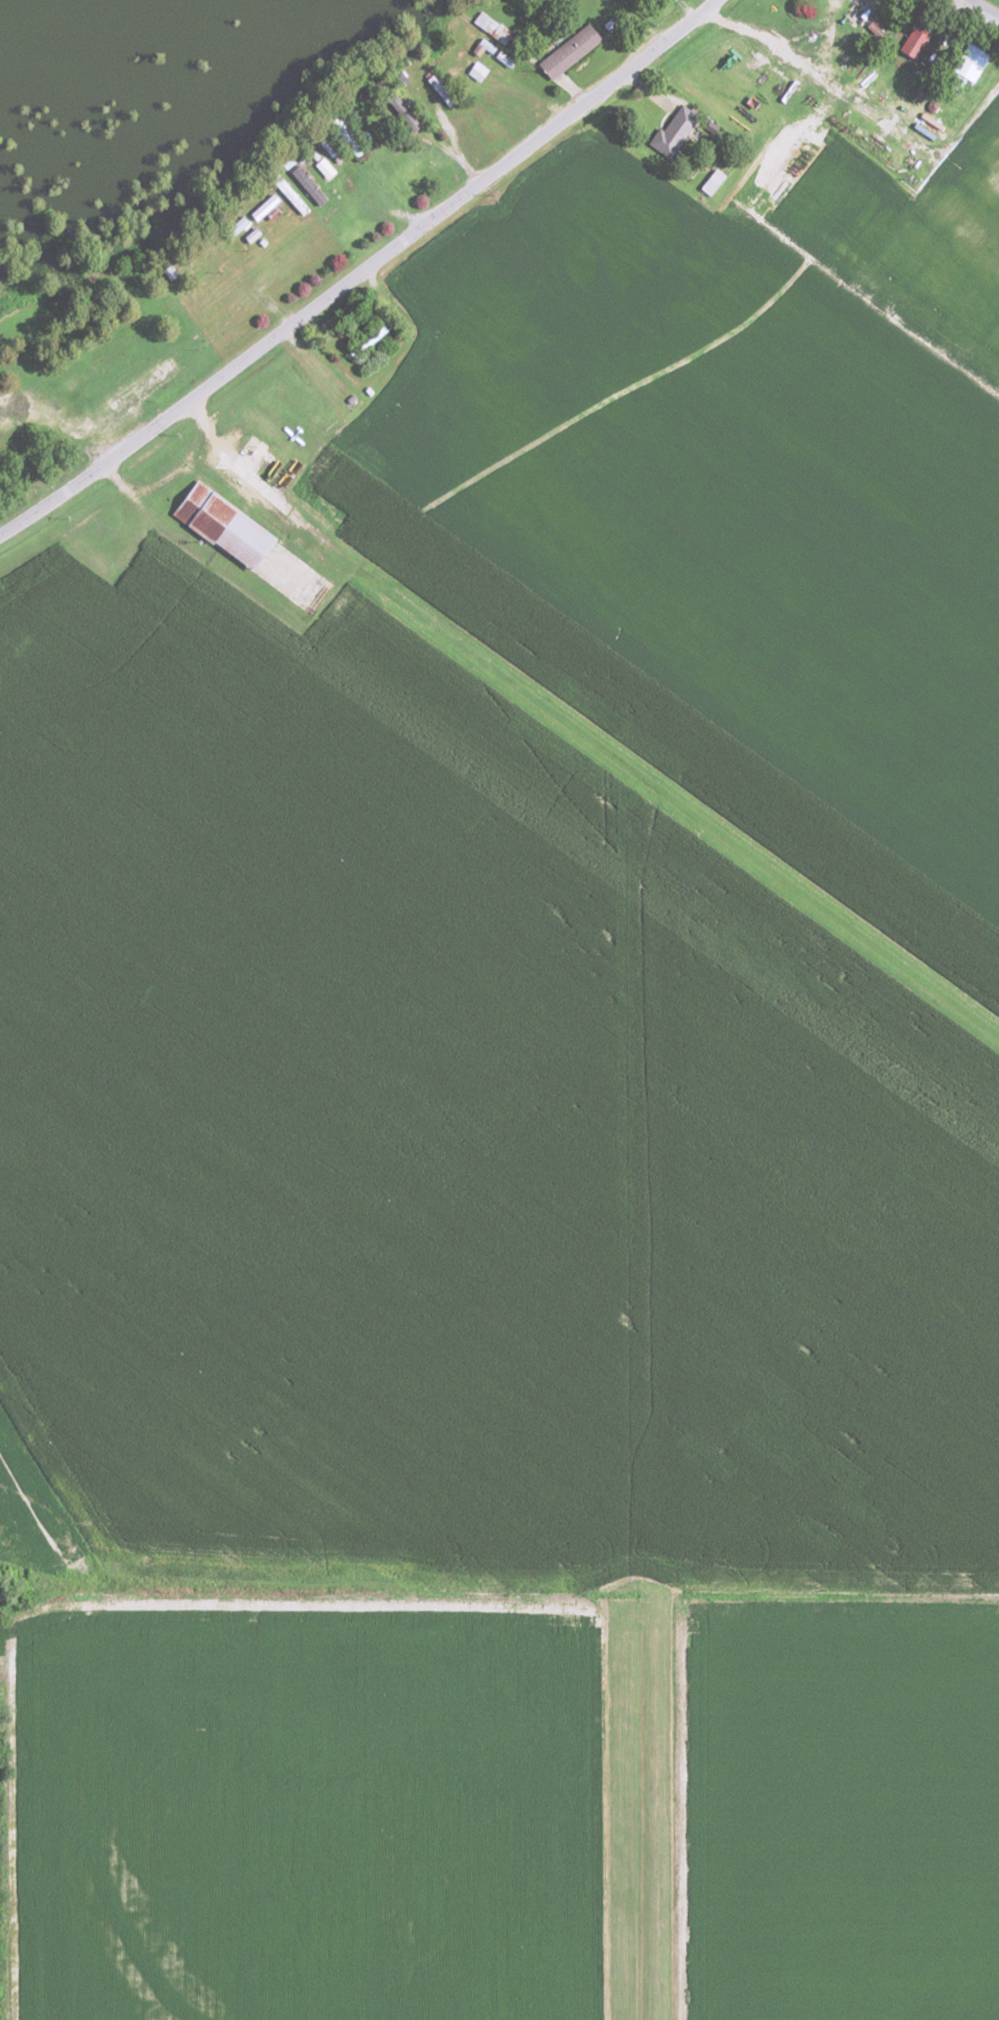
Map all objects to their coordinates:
road: (980, 10)
building: (487, 28)
road: (845, 30)
building: (908, 41)
building: (564, 52)
road: (851, 102)
building: (399, 110)
building: (670, 130)
building: (209, 271)
road: (360, 272)
building: (361, 339)
building: (136, 386)
building: (11, 399)
building: (216, 525)
airport runway: (654, 787)
road: (651, 874)
road: (648, 1797)

